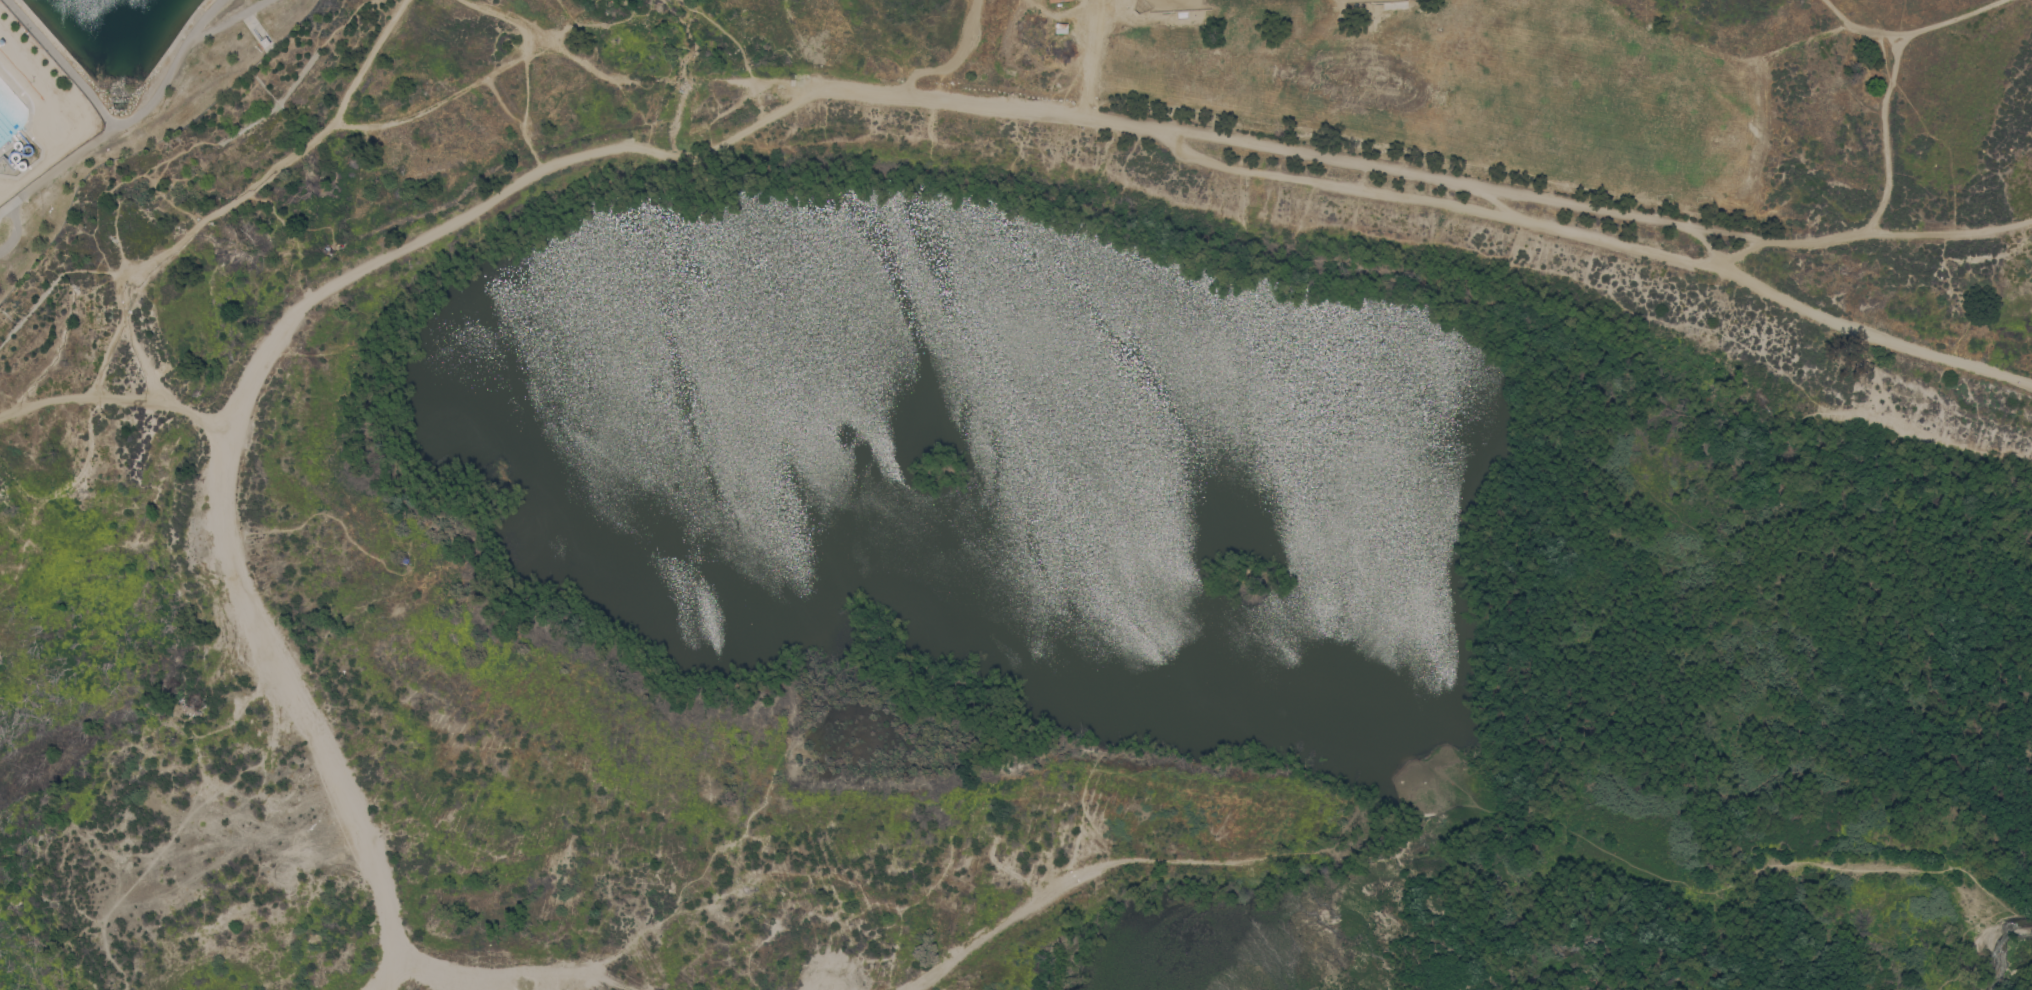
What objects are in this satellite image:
park: (1331, 1)
park: (1192, 3)
road: (1875, 36)
road: (1089, 58)
park: (1180, 67)
park: (1360, 78)
park: (1500, 88)
park: (107, 93)
road: (792, 97)
park: (1645, 122)
road: (1885, 135)
road: (56, 168)
road: (241, 196)
road: (1451, 205)
road: (1726, 226)
road: (1860, 231)
road: (142, 363)
road: (115, 398)
river: (1657, 907)

